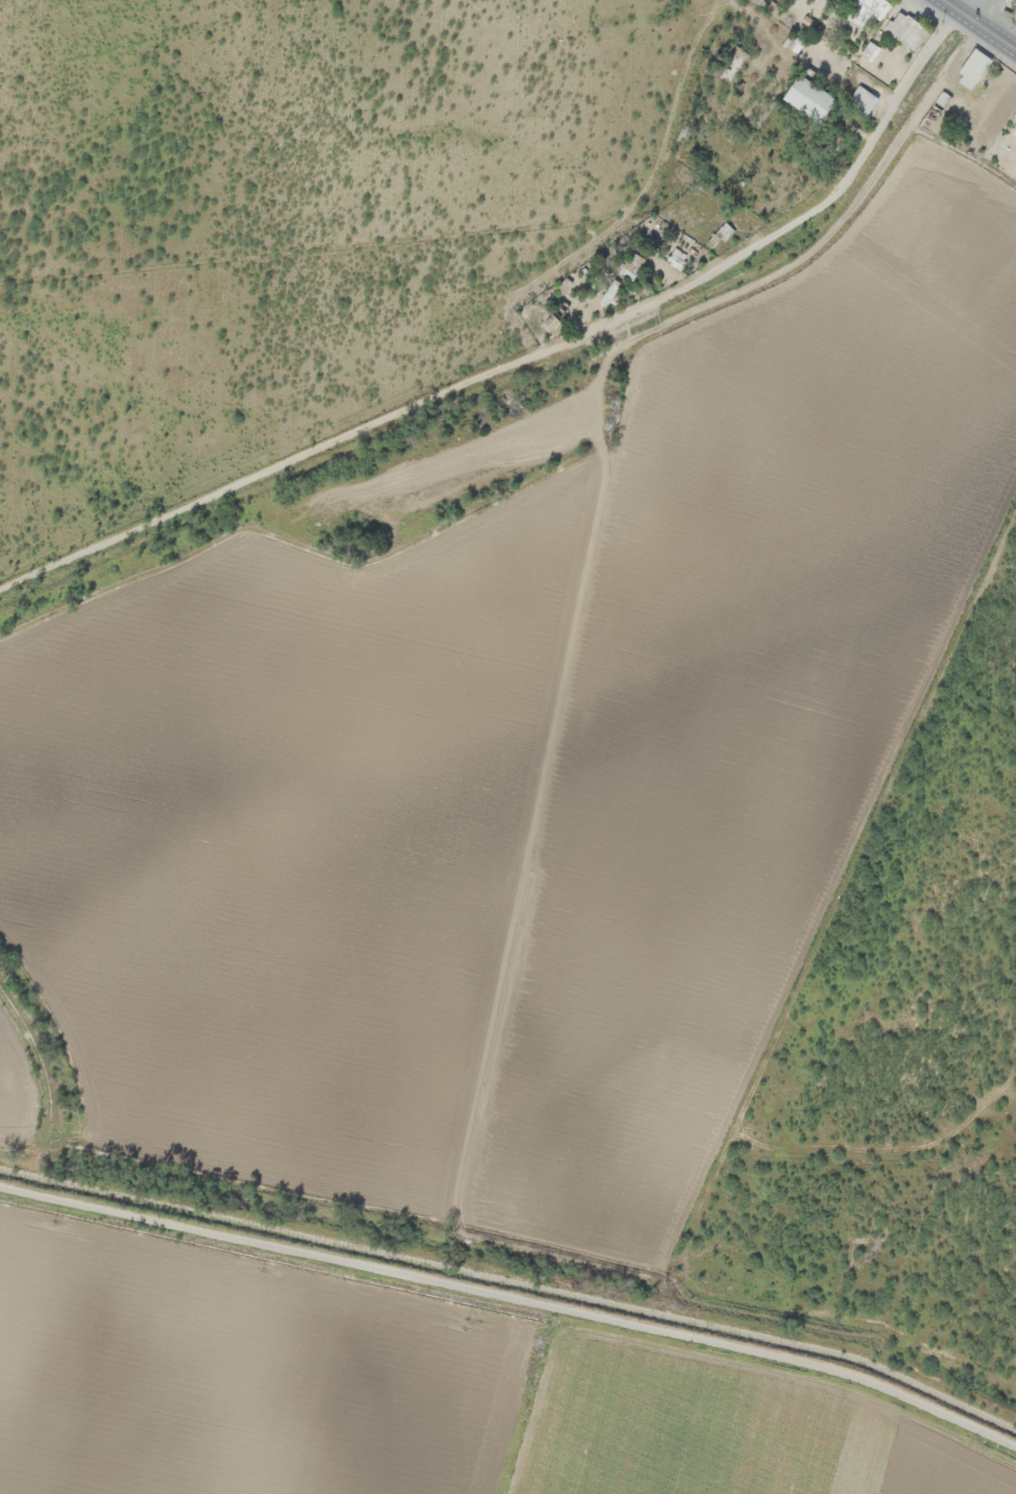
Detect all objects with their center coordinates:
road: (981, 23)
power tower: (692, 136)

